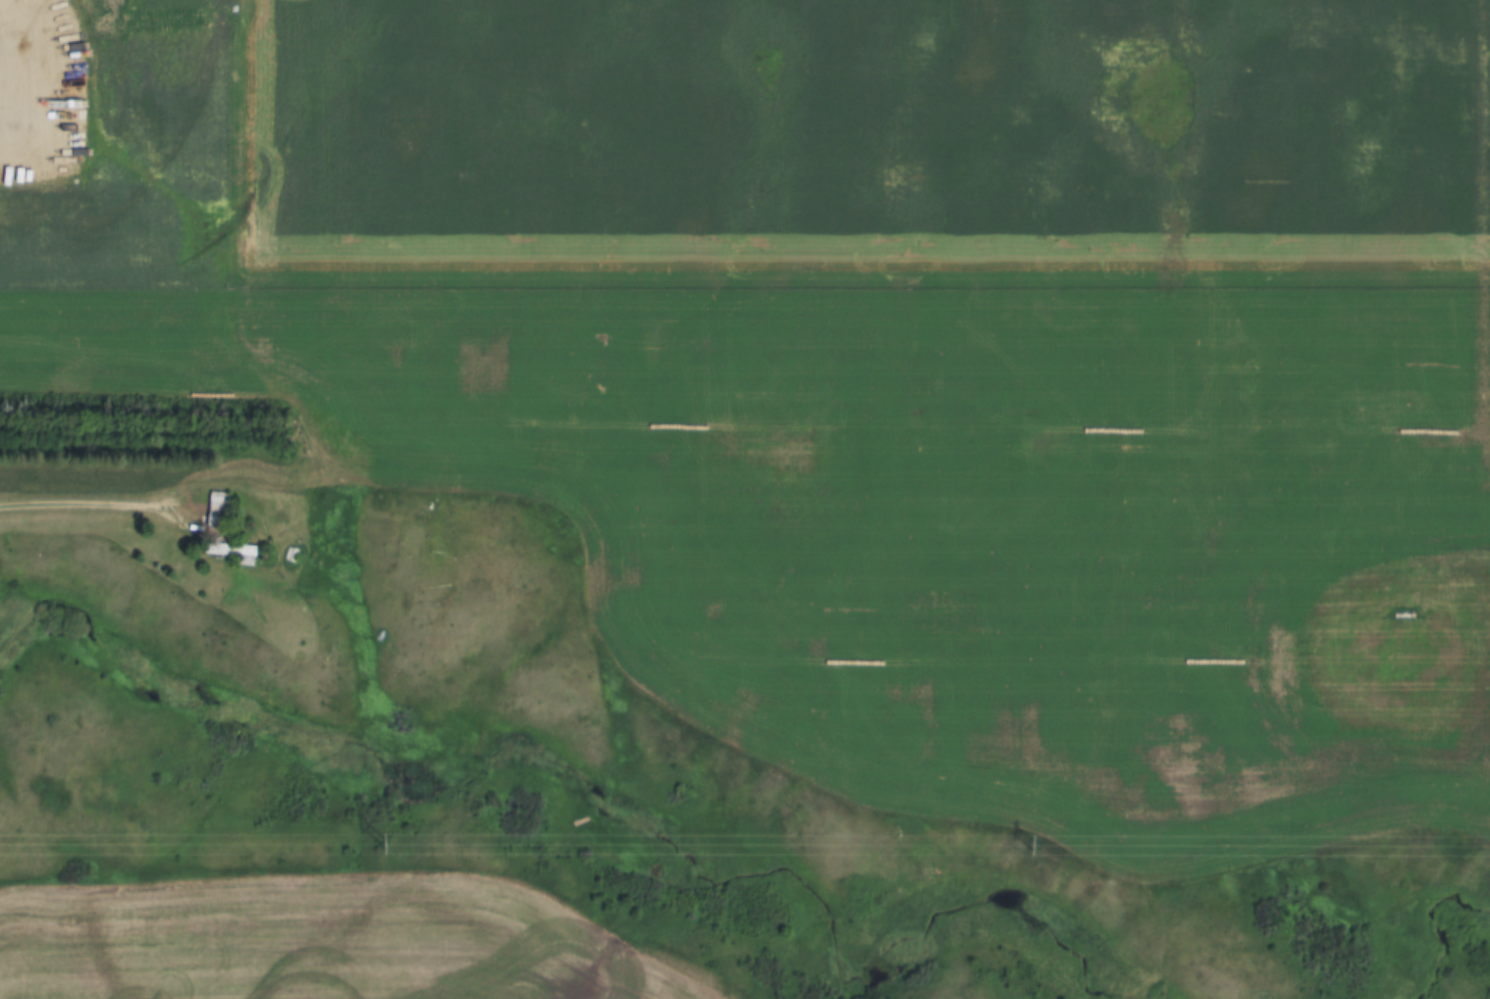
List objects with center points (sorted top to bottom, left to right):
road: (113, 501)
building: (214, 510)
building: (229, 553)

